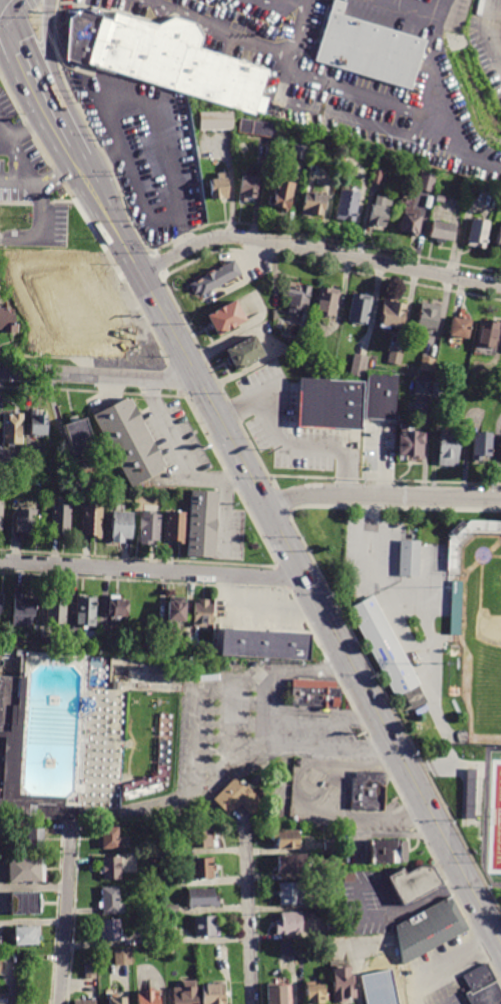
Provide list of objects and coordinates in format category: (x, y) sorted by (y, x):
road: (289, 1)
road: (303, 1)
road: (418, 5)
road: (3, 9)
road: (14, 9)
road: (3, 18)
traffic signals: (6, 18)
road: (220, 28)
road: (488, 30)
road: (294, 38)
building: (371, 50)
road: (49, 53)
building: (167, 57)
road: (437, 57)
road: (23, 62)
road: (402, 105)
road: (347, 116)
building: (218, 121)
road: (5, 124)
road: (30, 124)
building: (259, 129)
road: (5, 136)
road: (161, 137)
road: (63, 138)
building: (300, 153)
road: (23, 158)
road: (56, 172)
building: (377, 177)
road: (18, 181)
building: (427, 183)
building: (220, 188)
building: (250, 189)
building: (283, 196)
building: (441, 199)
building: (430, 202)
building: (315, 205)
building: (349, 206)
road: (43, 210)
building: (380, 213)
flagpole: (29, 218)
building: (411, 224)
road: (179, 231)
building: (443, 232)
building: (479, 234)
road: (22, 240)
building: (499, 246)
road: (317, 252)
building: (46, 273)
building: (102, 276)
building: (216, 280)
building: (301, 301)
building: (329, 303)
building: (361, 309)
building: (393, 314)
building: (430, 317)
building: (229, 318)
building: (8, 323)
building: (56, 326)
building: (461, 329)
building: (488, 334)
building: (33, 341)
building: (246, 354)
building: (147, 356)
building: (395, 358)
building: (428, 364)
building: (359, 366)
road: (99, 376)
building: (474, 379)
building: (423, 389)
building: (438, 390)
building: (385, 395)
building: (329, 405)
building: (40, 424)
building: (14, 430)
building: (81, 438)
building: (133, 440)
road: (288, 444)
building: (500, 445)
building: (412, 447)
building: (483, 447)
building: (450, 449)
road: (181, 453)
road: (382, 497)
building: (49, 507)
building: (2, 516)
building: (63, 520)
building: (29, 522)
building: (94, 522)
building: (206, 524)
building: (123, 527)
building: (151, 527)
building: (178, 528)
road: (373, 535)
building: (415, 558)
road: (293, 560)
building: (464, 567)
road: (151, 569)
building: (1, 605)
building: (120, 608)
building: (25, 611)
building: (58, 611)
building: (87, 612)
building: (178, 613)
building: (205, 615)
stadium: (479, 622)
building: (91, 639)
building: (268, 645)
building: (385, 648)
park: (489, 650)
road: (311, 671)
park: (97, 673)
park: (144, 678)
building: (118, 687)
building: (316, 694)
road: (269, 709)
road: (296, 710)
road: (235, 721)
road: (323, 721)
road: (198, 743)
road: (331, 749)
building: (19, 759)
road: (338, 778)
building: (369, 793)
road: (302, 795)
building: (471, 795)
building: (241, 798)
road: (487, 802)
park: (495, 821)
park: (499, 837)
building: (112, 839)
building: (203, 839)
building: (287, 840)
building: (35, 842)
building: (330, 847)
building: (387, 852)
building: (294, 865)
building: (111, 869)
building: (204, 870)
building: (330, 870)
building: (27, 872)
building: (350, 879)
building: (171, 882)
building: (415, 886)
road: (500, 886)
road: (34, 887)
building: (292, 895)
building: (204, 899)
building: (113, 903)
building: (333, 904)
building: (26, 906)
building: (173, 911)
road: (248, 913)
road: (65, 916)
building: (291, 924)
building: (334, 927)
building: (206, 928)
building: (111, 931)
building: (430, 931)
building: (28, 938)
building: (174, 940)
building: (157, 941)
building: (2, 944)
building: (288, 950)
building: (124, 958)
road: (444, 964)
building: (1, 966)
building: (91, 973)
building: (344, 987)
building: (482, 987)
building: (386, 990)
building: (188, 993)
building: (215, 994)
building: (279, 995)
building: (318, 996)
building: (150, 997)
building: (86, 1002)
building: (119, 1002)
building: (4, 1003)
building: (22, 1003)

